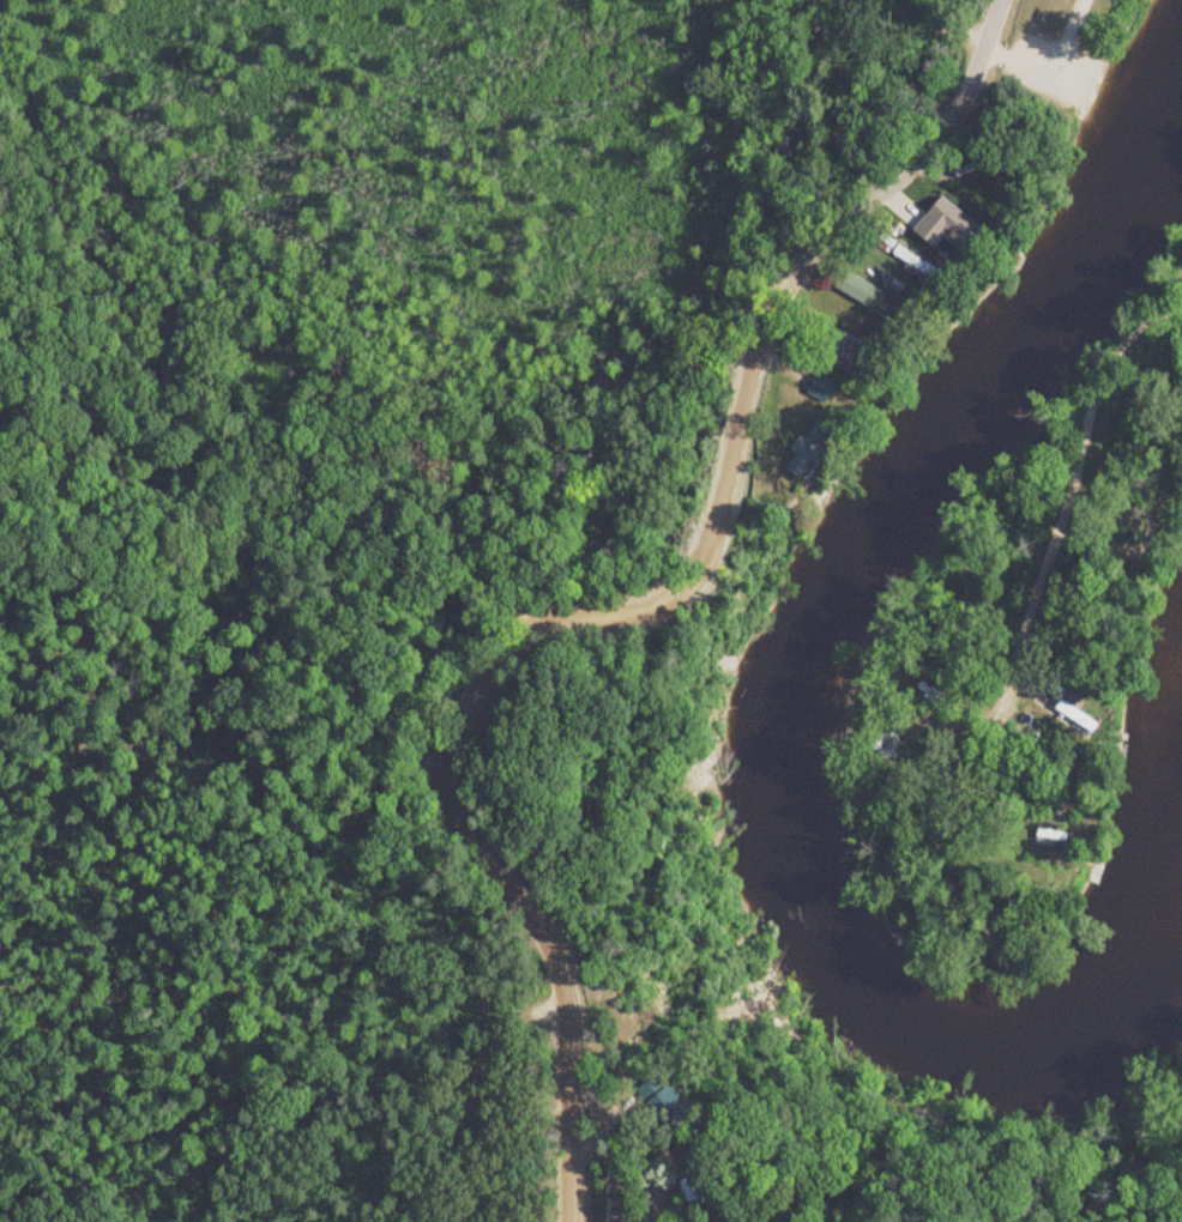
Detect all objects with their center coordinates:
road: (1065, 36)
road: (1027, 65)
building: (861, 296)
building: (816, 389)
building: (806, 449)
road: (1069, 476)
road: (627, 607)
river: (785, 727)
building: (664, 1105)

